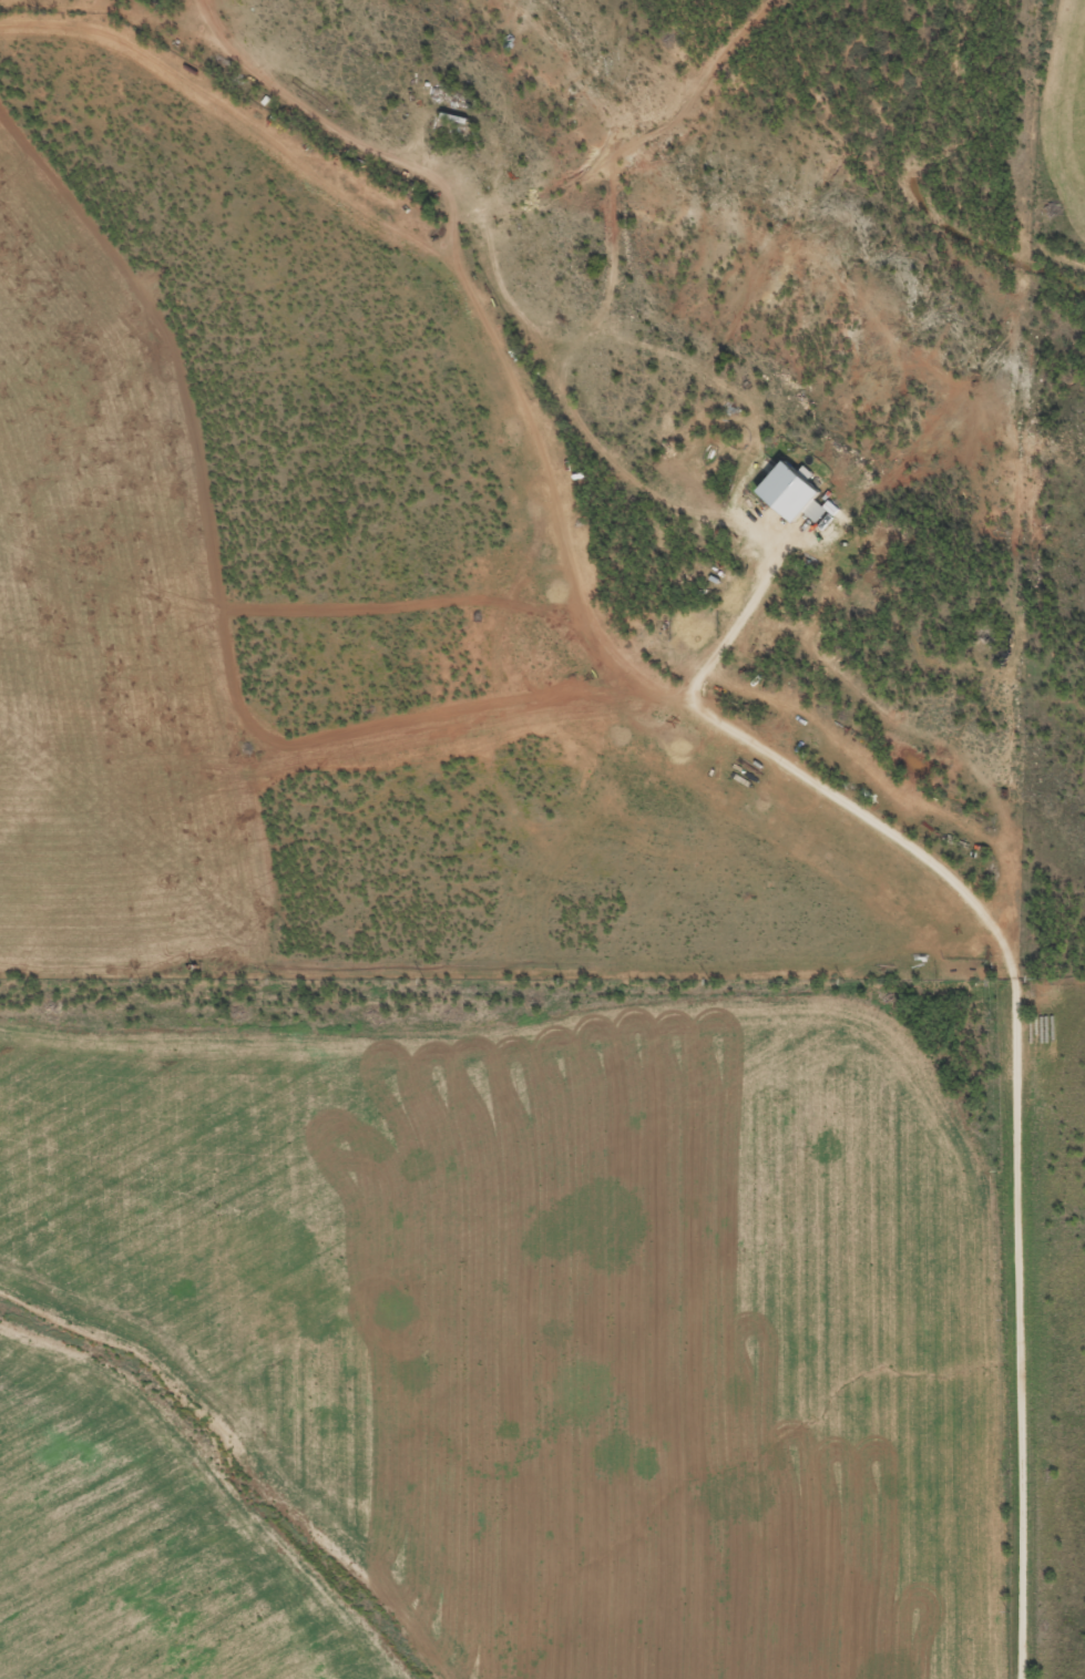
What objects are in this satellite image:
building: (791, 492)
road: (1014, 1017)

